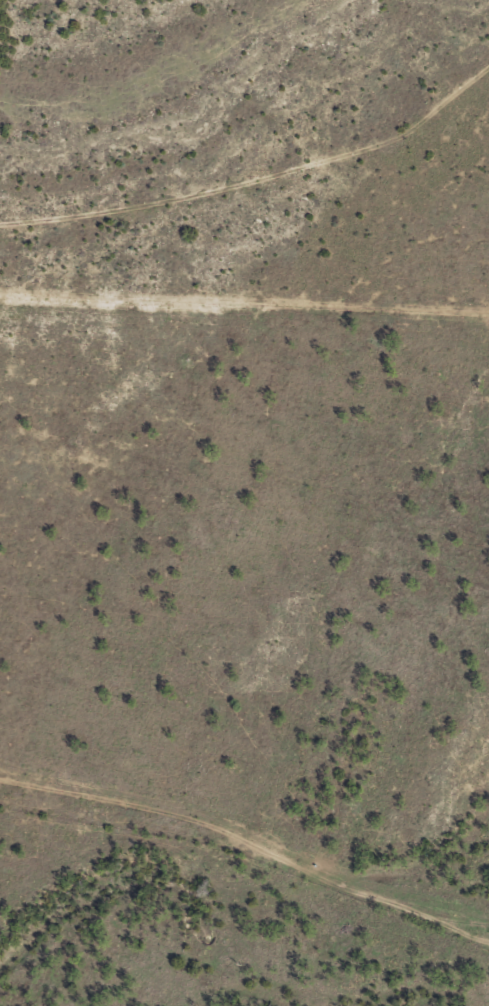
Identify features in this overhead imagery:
road: (247, 847)

